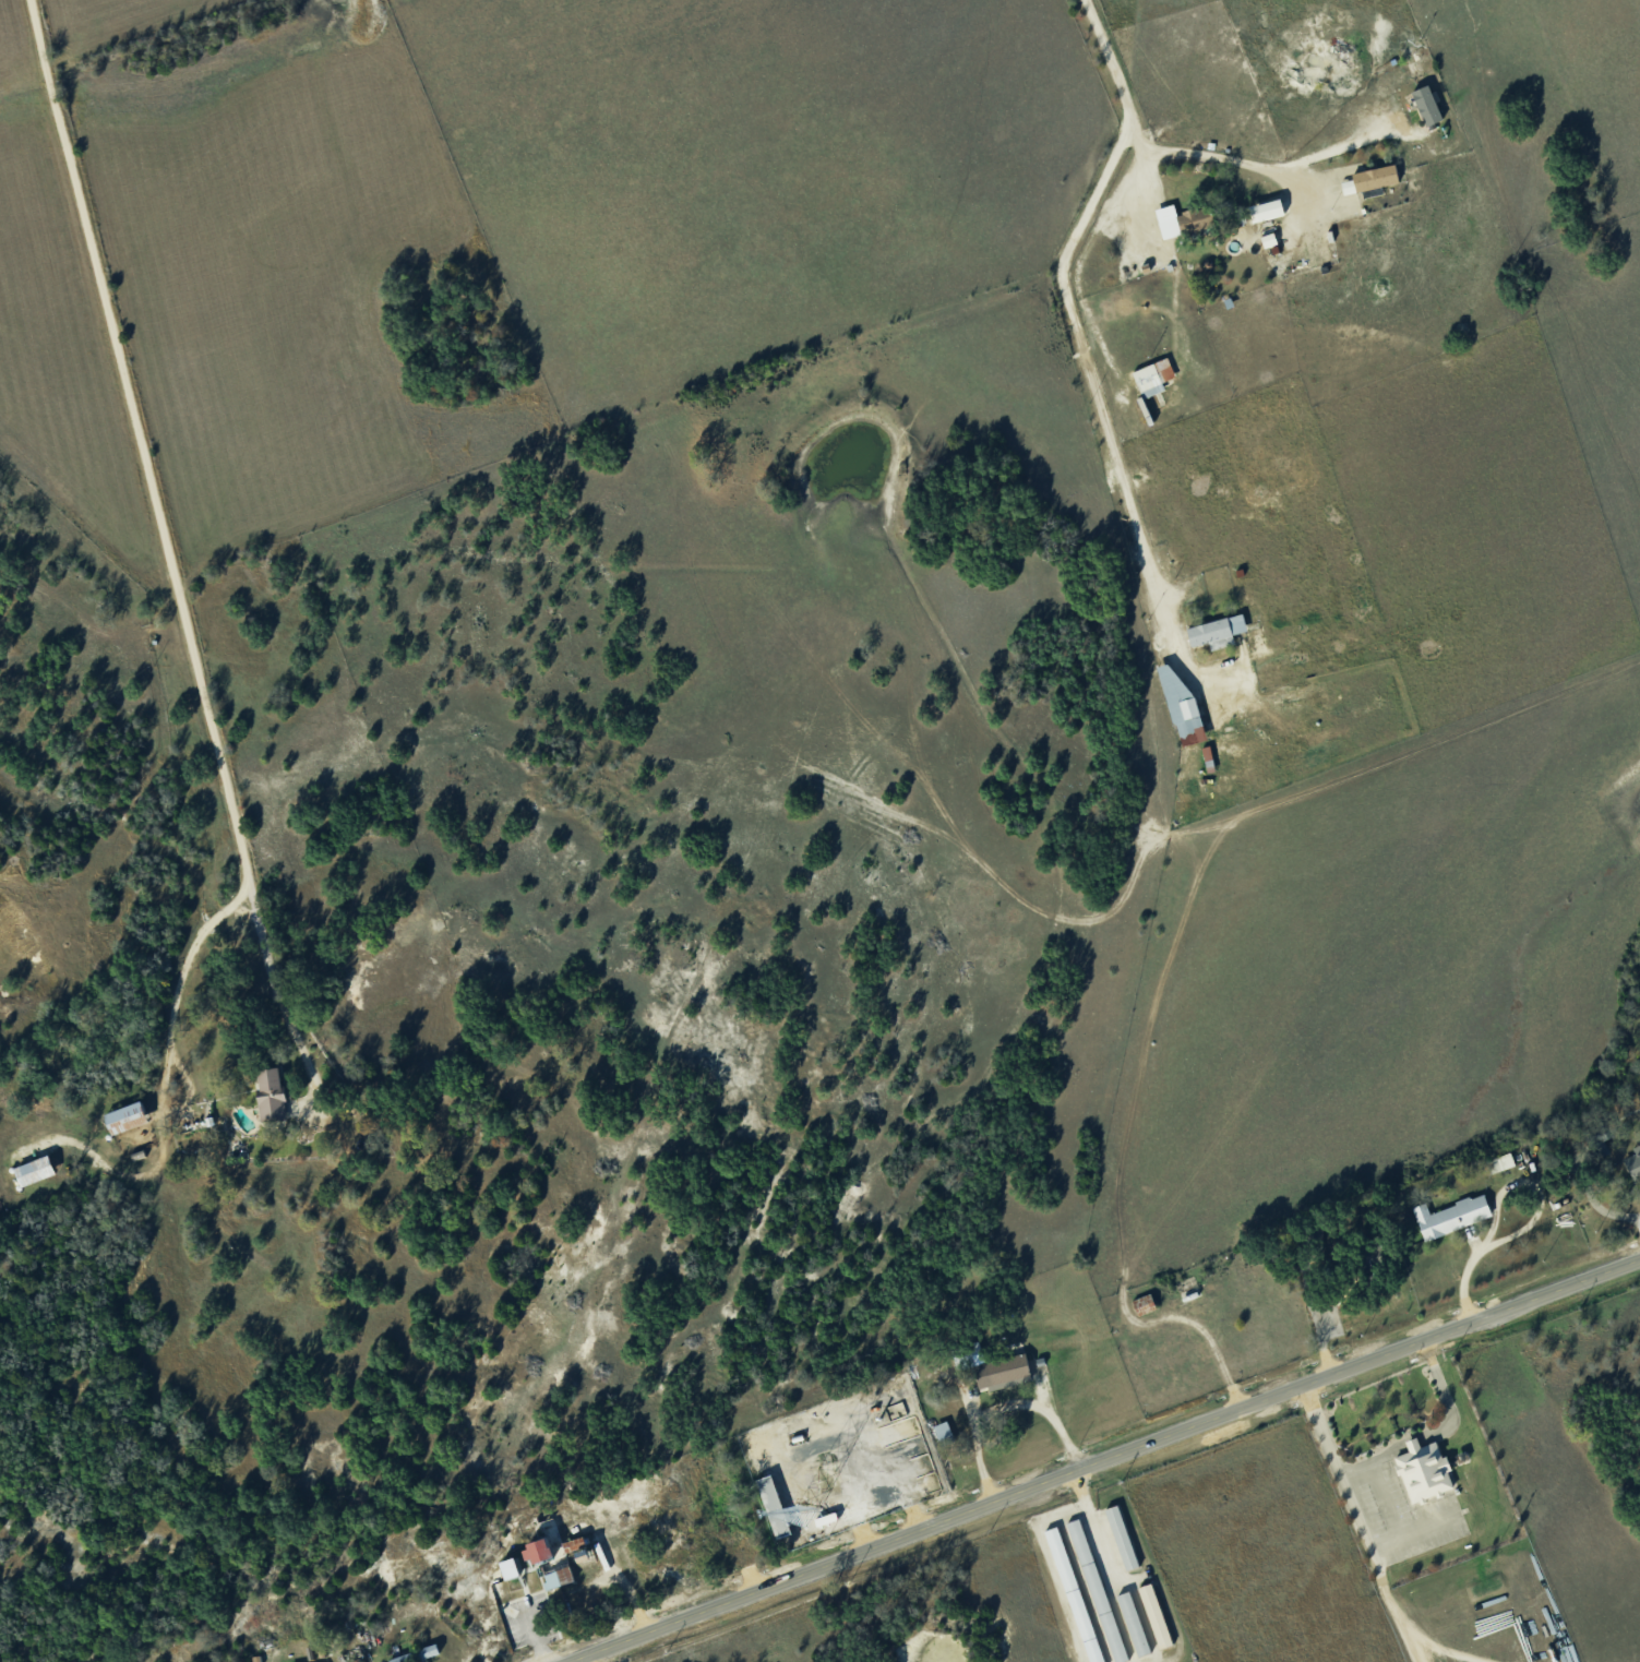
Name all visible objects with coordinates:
building: (1428, 105)
building: (1418, 136)
road: (1271, 166)
building: (1377, 177)
road: (1302, 195)
building: (1268, 210)
building: (1184, 219)
road: (1084, 359)
building: (1153, 376)
road: (158, 511)
building: (1218, 629)
building: (1181, 700)
building: (1209, 757)
road: (169, 1028)
building: (271, 1093)
building: (127, 1116)
building: (1635, 1161)
building: (1500, 1162)
building: (36, 1169)
road: (124, 1176)
road: (1496, 1197)
building: (1451, 1215)
building: (1145, 1303)
building: (1003, 1370)
road: (1446, 1377)
road: (1001, 1402)
building: (944, 1431)
road: (1105, 1458)
road: (1356, 1468)
building: (1424, 1469)
building: (774, 1506)
road: (1423, 1530)
building: (1123, 1537)
road: (1387, 1544)
building: (540, 1550)
building: (513, 1567)
building: (558, 1577)
building: (1097, 1590)
road: (1382, 1591)
building: (1074, 1594)
building: (1156, 1615)
building: (1134, 1623)
road: (535, 1631)
road: (1412, 1646)
road: (1445, 1648)
building: (417, 1654)
road: (579, 1661)

